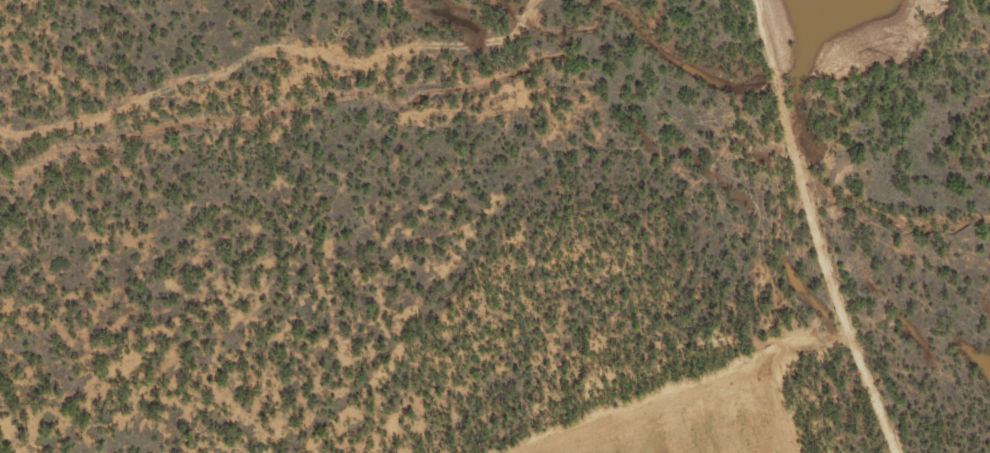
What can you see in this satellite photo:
road: (808, 228)

